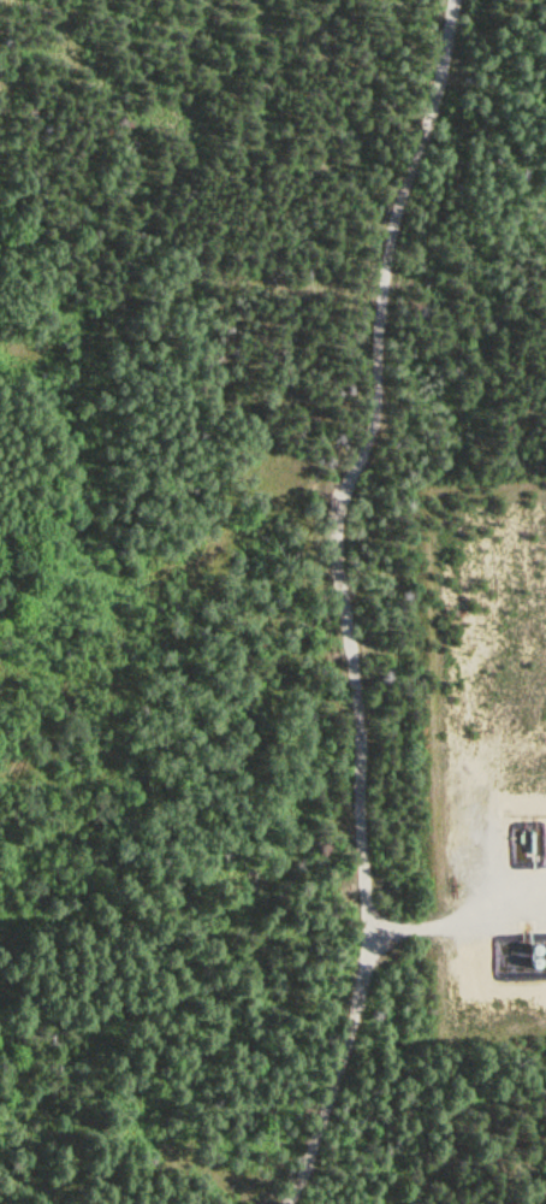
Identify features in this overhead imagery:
road: (339, 610)

